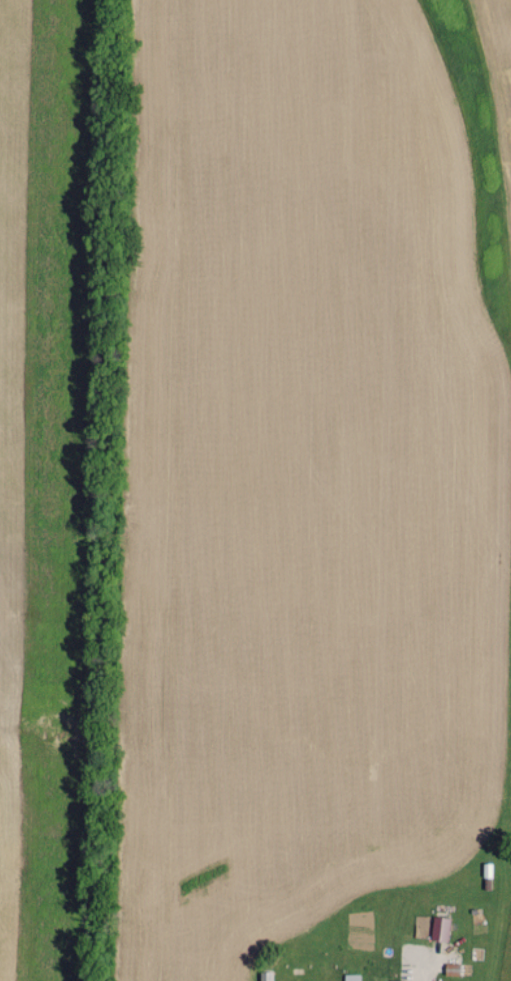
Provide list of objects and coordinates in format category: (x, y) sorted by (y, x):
building: (439, 927)
building: (451, 967)
building: (265, 975)
building: (351, 977)
building: (398, 980)

